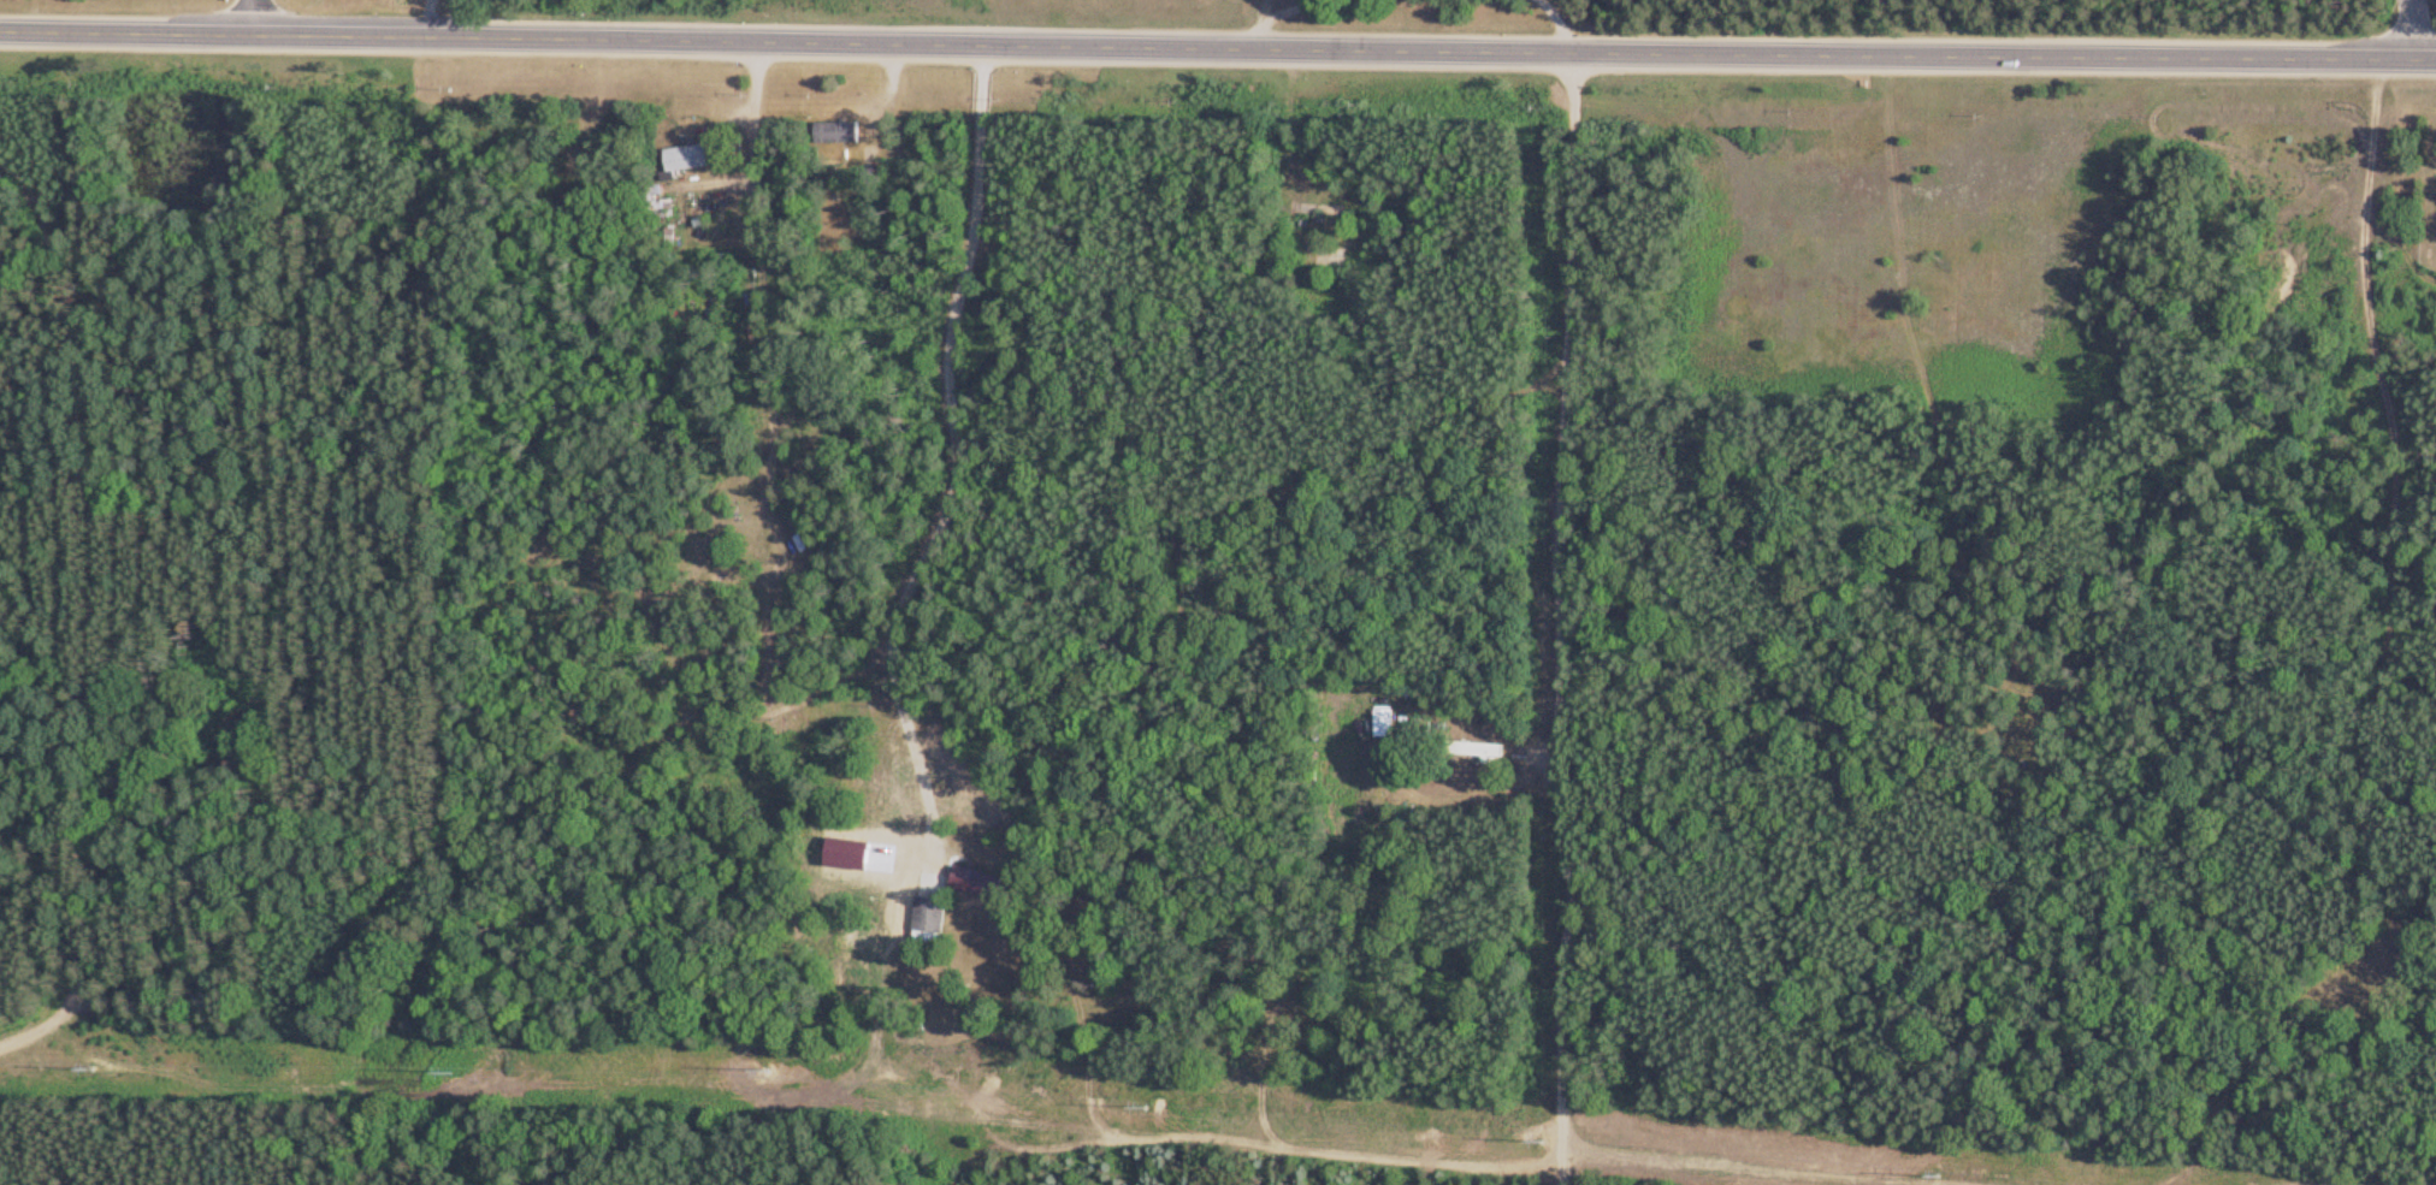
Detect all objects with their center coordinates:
road: (1278, 14)
road: (1560, 23)
road: (2416, 30)
road: (1217, 49)
building: (834, 134)
building: (681, 158)
building: (1326, 259)
road: (953, 473)
road: (54, 569)
road: (1555, 620)
road: (816, 680)
building: (977, 876)
building: (929, 908)
road: (32, 1018)

